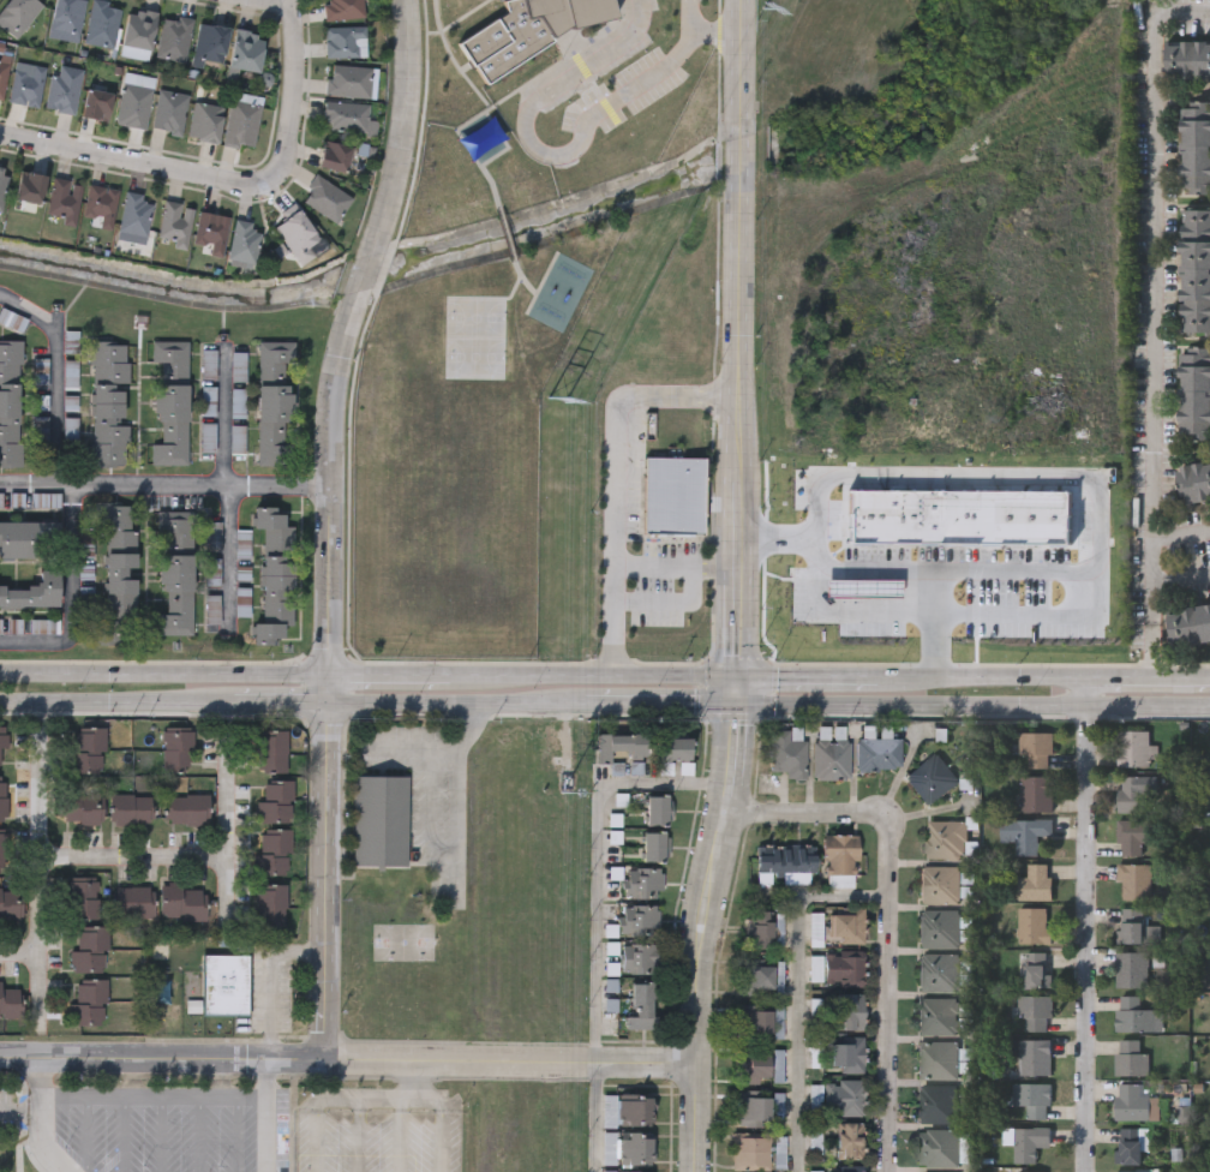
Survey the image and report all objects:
road: (262, 5)
building: (343, 8)
power tower: (766, 10)
building: (18, 14)
building: (67, 16)
building: (102, 24)
building: (527, 31)
building: (138, 34)
road: (714, 35)
building: (174, 37)
building: (211, 42)
building: (346, 42)
building: (246, 49)
building: (1186, 60)
building: (4, 72)
building: (347, 80)
building: (26, 86)
building: (64, 89)
building: (134, 103)
building: (97, 104)
building: (169, 112)
building: (346, 116)
road: (420, 120)
building: (241, 121)
building: (205, 122)
road: (406, 122)
building: (1194, 148)
road: (550, 154)
building: (335, 156)
road: (227, 185)
building: (2, 186)
building: (30, 187)
building: (325, 198)
building: (62, 201)
building: (100, 207)
building: (133, 219)
building: (175, 223)
building: (211, 232)
building: (296, 233)
building: (242, 241)
road: (383, 270)
building: (1194, 271)
road: (363, 274)
road: (1154, 285)
road: (736, 337)
building: (208, 366)
parking lot: (208, 366)
building: (238, 367)
parking lot: (238, 367)
road: (62, 372)
building: (1193, 394)
building: (172, 401)
building: (208, 401)
parking lot: (208, 401)
building: (10, 402)
building: (274, 402)
building: (108, 403)
building: (236, 403)
parking lot: (236, 403)
power tower: (562, 406)
building: (208, 437)
parking lot: (208, 437)
road: (617, 477)
road: (1041, 477)
building: (1194, 480)
road: (166, 486)
road: (333, 489)
road: (232, 492)
building: (673, 494)
road: (1181, 534)
building: (212, 537)
parking lot: (212, 537)
building: (18, 539)
road: (84, 555)
road: (675, 566)
road: (917, 569)
road: (1017, 570)
building: (176, 573)
building: (274, 574)
building: (119, 575)
road: (1181, 578)
building: (31, 593)
road: (671, 600)
road: (1151, 610)
road: (852, 611)
building: (1188, 624)
road: (42, 639)
road: (676, 662)
road: (163, 672)
road: (388, 675)
road: (532, 675)
road: (675, 676)
traffic signals: (735, 677)
road: (805, 677)
road: (982, 677)
road: (1148, 678)
road: (328, 689)
road: (733, 692)
road: (163, 704)
road: (448, 705)
road: (651, 705)
traffic signals: (733, 706)
road: (971, 706)
building: (623, 746)
building: (1, 747)
road: (436, 747)
building: (678, 747)
building: (1036, 747)
building: (1133, 747)
building: (88, 751)
building: (178, 751)
building: (272, 751)
building: (790, 751)
building: (880, 753)
building: (832, 759)
building: (932, 777)
power tower: (562, 790)
building: (1035, 793)
building: (1133, 794)
building: (2, 801)
building: (275, 802)
building: (83, 808)
building: (658, 808)
building: (132, 809)
building: (187, 809)
road: (228, 813)
building: (381, 823)
building: (1023, 832)
building: (1132, 835)
building: (947, 842)
building: (655, 844)
building: (2, 851)
building: (274, 851)
road: (136, 857)
building: (841, 859)
building: (787, 860)
road: (598, 862)
road: (41, 866)
building: (1133, 879)
building: (642, 880)
building: (1035, 880)
road: (324, 883)
building: (940, 883)
building: (84, 897)
building: (11, 902)
building: (133, 902)
building: (182, 902)
building: (270, 904)
road: (889, 914)
building: (641, 919)
building: (849, 922)
building: (1032, 923)
building: (1131, 923)
road: (1085, 925)
building: (761, 926)
building: (940, 927)
road: (696, 937)
building: (90, 950)
building: (641, 956)
road: (19, 958)
building: (844, 968)
building: (1036, 968)
building: (1130, 968)
building: (940, 970)
building: (757, 977)
road: (271, 981)
building: (224, 985)
road: (798, 989)
building: (10, 1001)
building: (89, 1003)
building: (643, 1005)
building: (850, 1010)
building: (1034, 1011)
building: (939, 1013)
building: (1131, 1013)
building: (756, 1021)
building: (849, 1053)
building: (1034, 1056)
building: (1130, 1057)
building: (939, 1059)
road: (296, 1063)
road: (508, 1063)
road: (134, 1065)
building: (756, 1068)
road: (133, 1080)
road: (221, 1080)
road: (269, 1080)
road: (671, 1093)
road: (156, 1094)
building: (846, 1096)
building: (1031, 1098)
road: (388, 1101)
building: (938, 1102)
building: (1132, 1102)
building: (754, 1110)
road: (22, 1114)
road: (319, 1114)
road: (441, 1114)
road: (595, 1117)
road: (44, 1124)
road: (402, 1124)
building: (636, 1128)
road: (86, 1132)
road: (125, 1132)
road: (162, 1132)
road: (199, 1132)
road: (238, 1134)
road: (269, 1134)
road: (367, 1137)
building: (814, 1140)
building: (851, 1140)
building: (1028, 1142)
building: (1130, 1146)
building: (938, 1147)
building: (751, 1152)
building: (815, 1171)
building: (846, 1171)
building: (1031, 1171)
building: (1130, 1171)

